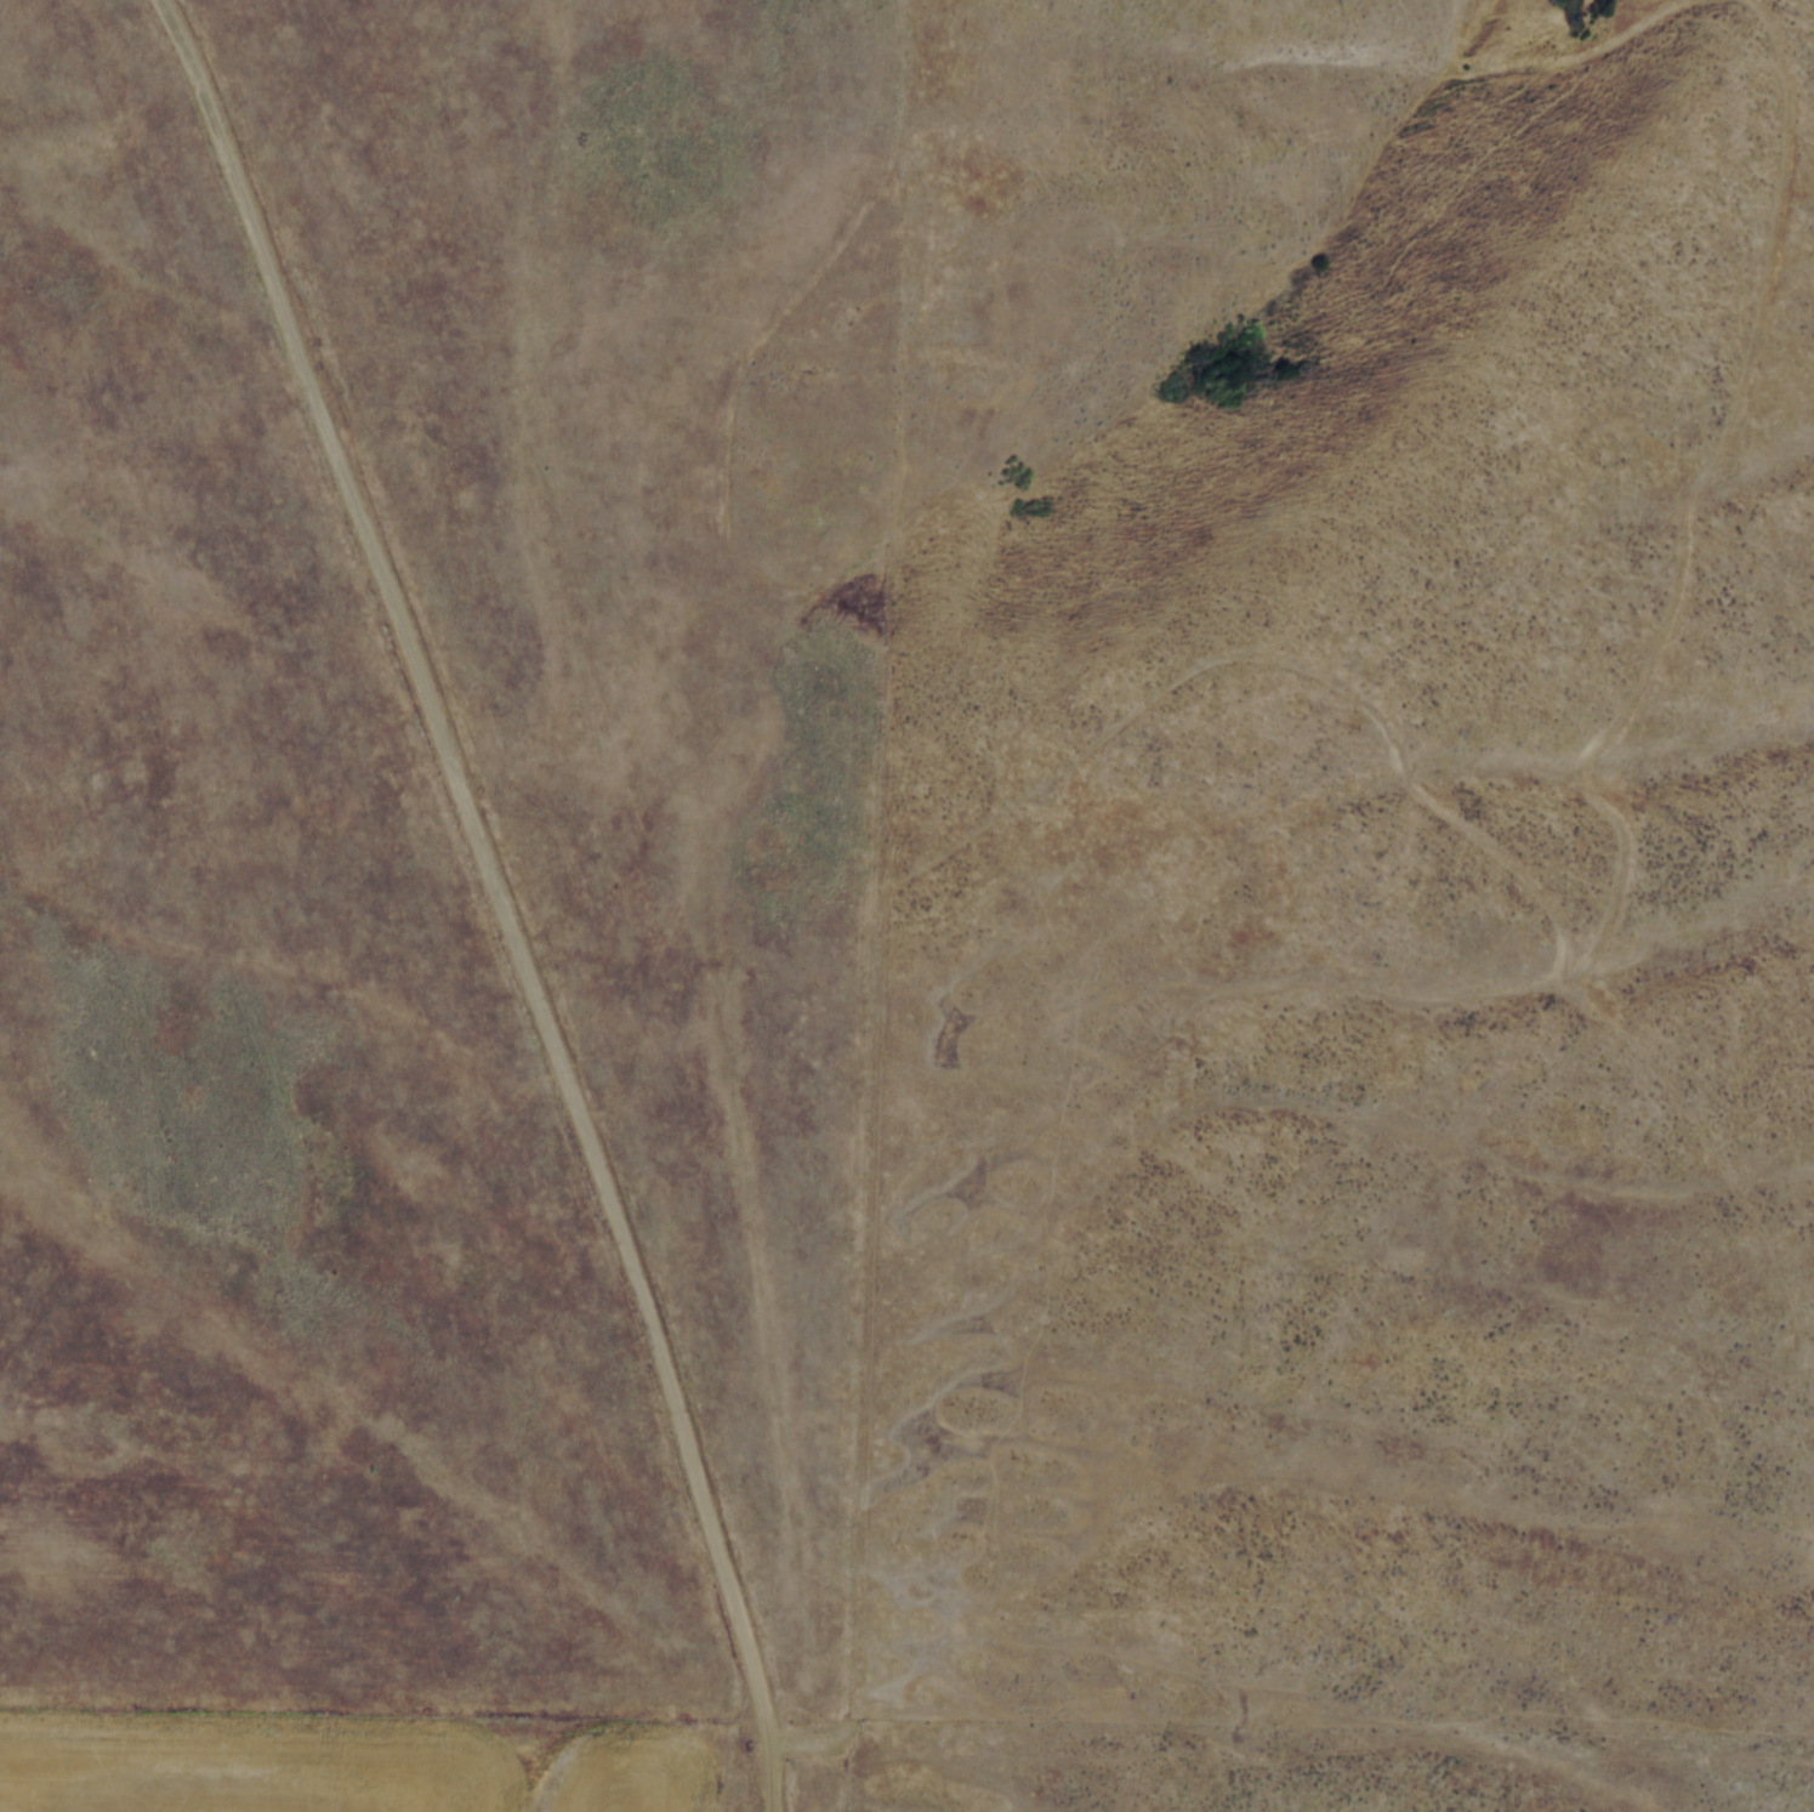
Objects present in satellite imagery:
road: (502, 896)

